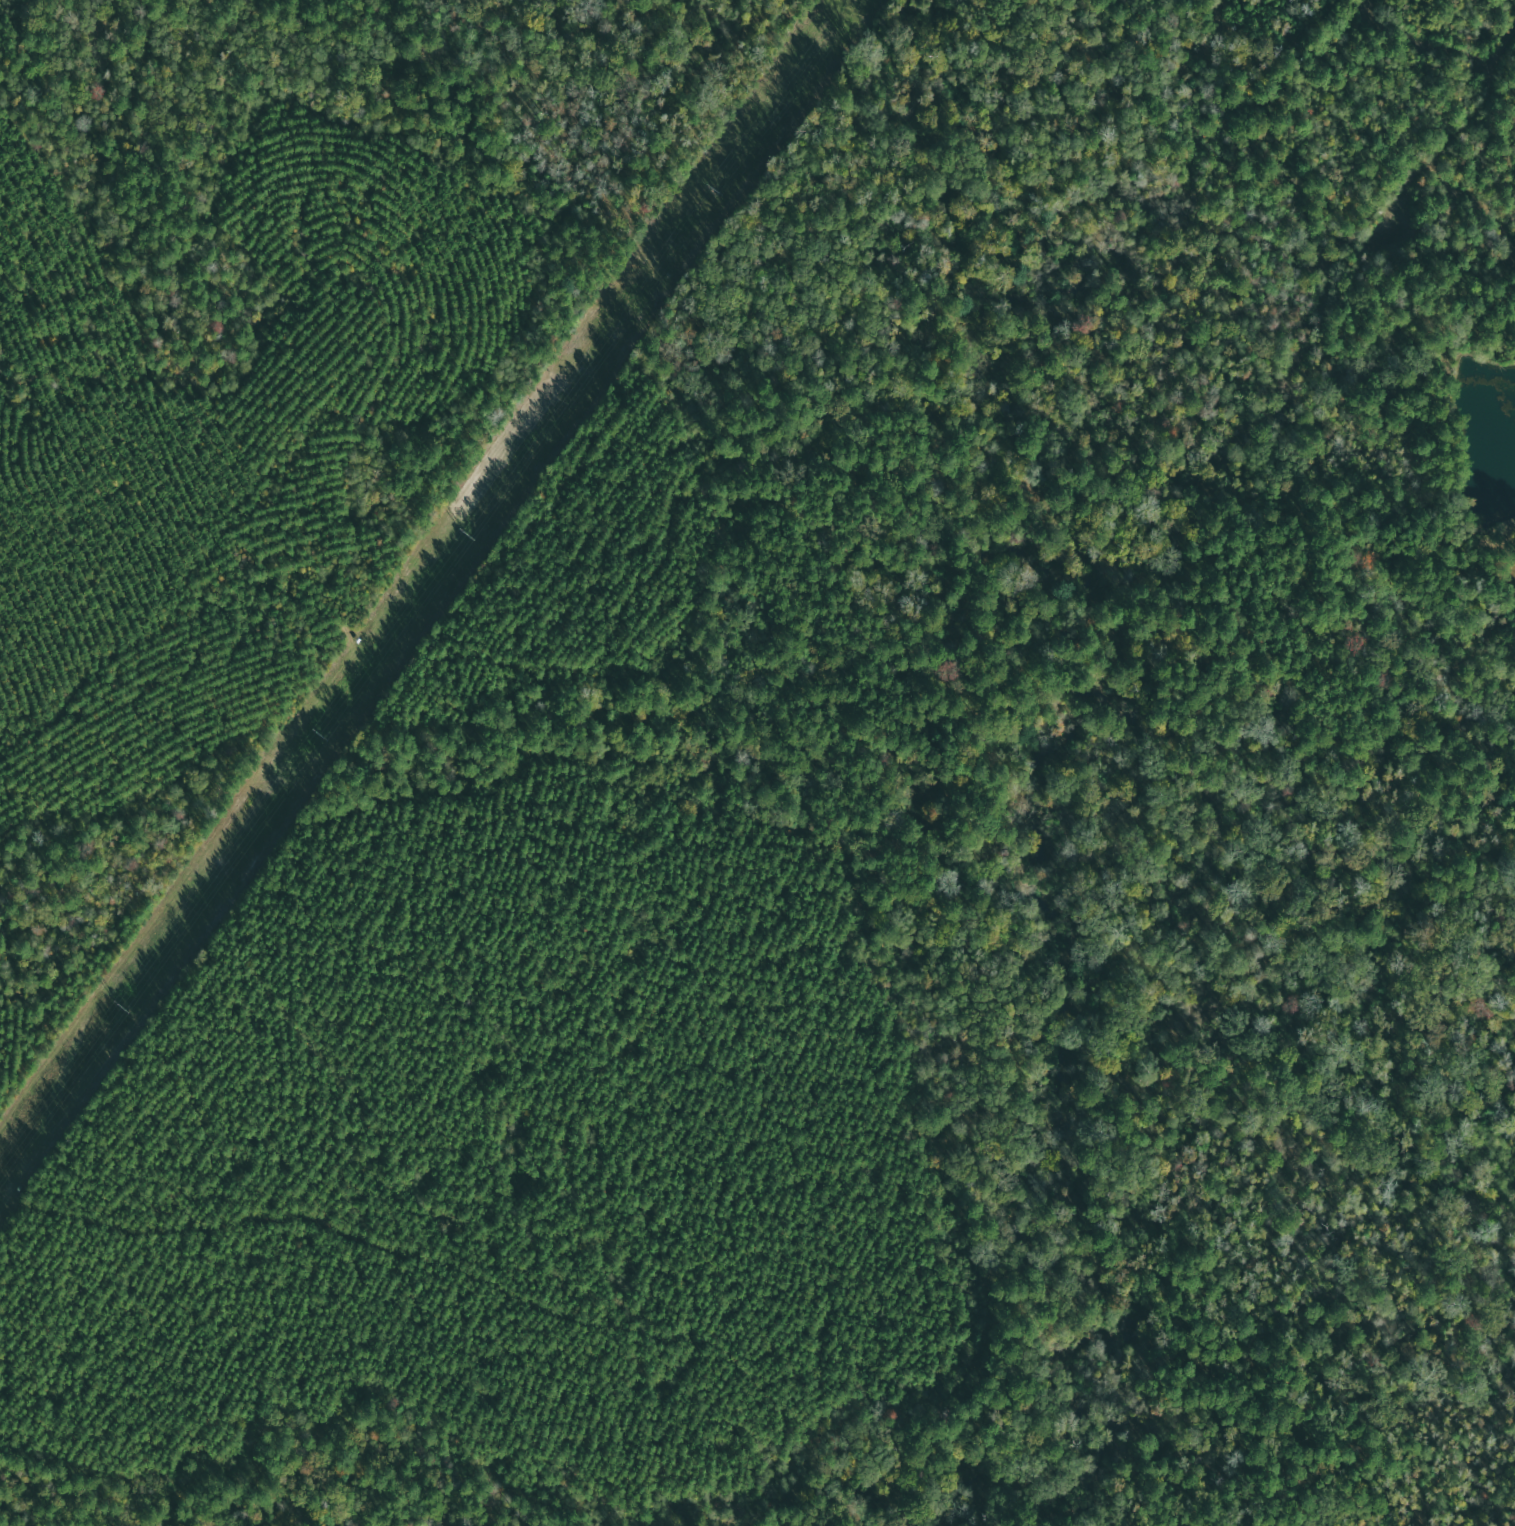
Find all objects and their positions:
power tower: (713, 188)
power tower: (462, 532)
power tower: (316, 733)
power tower: (117, 1005)

